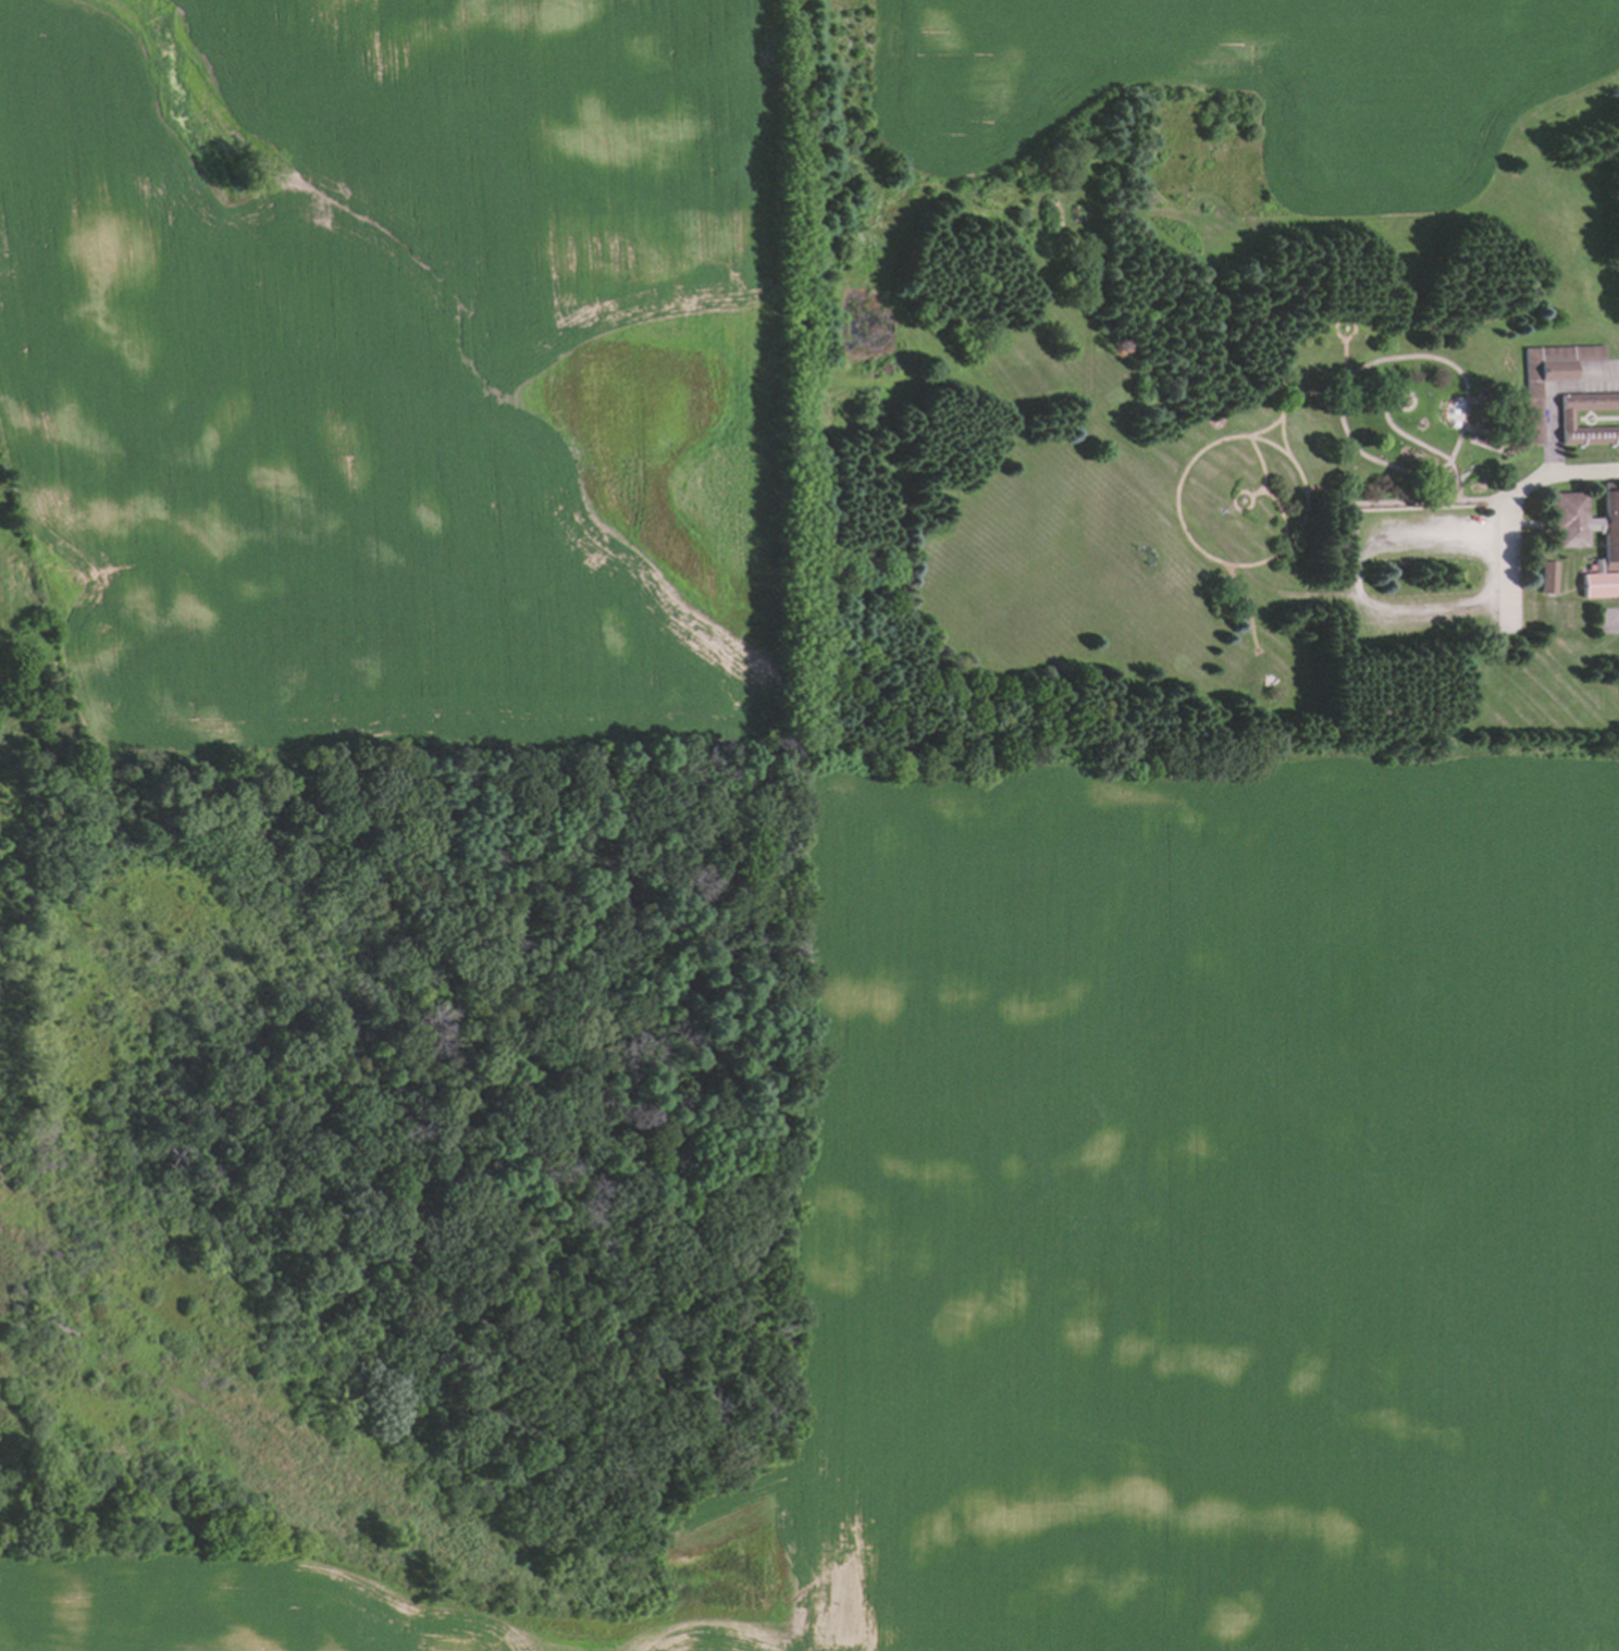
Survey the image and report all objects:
building: (1544, 376)
road: (1548, 395)
building: (1567, 419)
road: (1510, 504)
building: (1587, 520)
building: (1545, 573)
building: (1598, 580)
building: (1611, 732)

